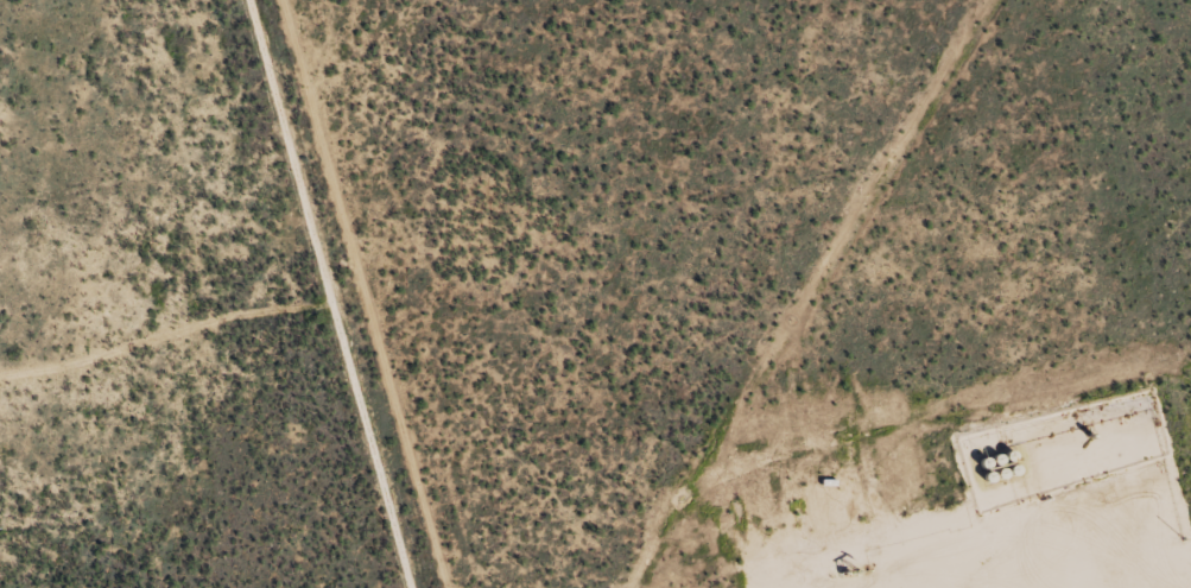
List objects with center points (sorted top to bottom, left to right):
road: (417, 293)

